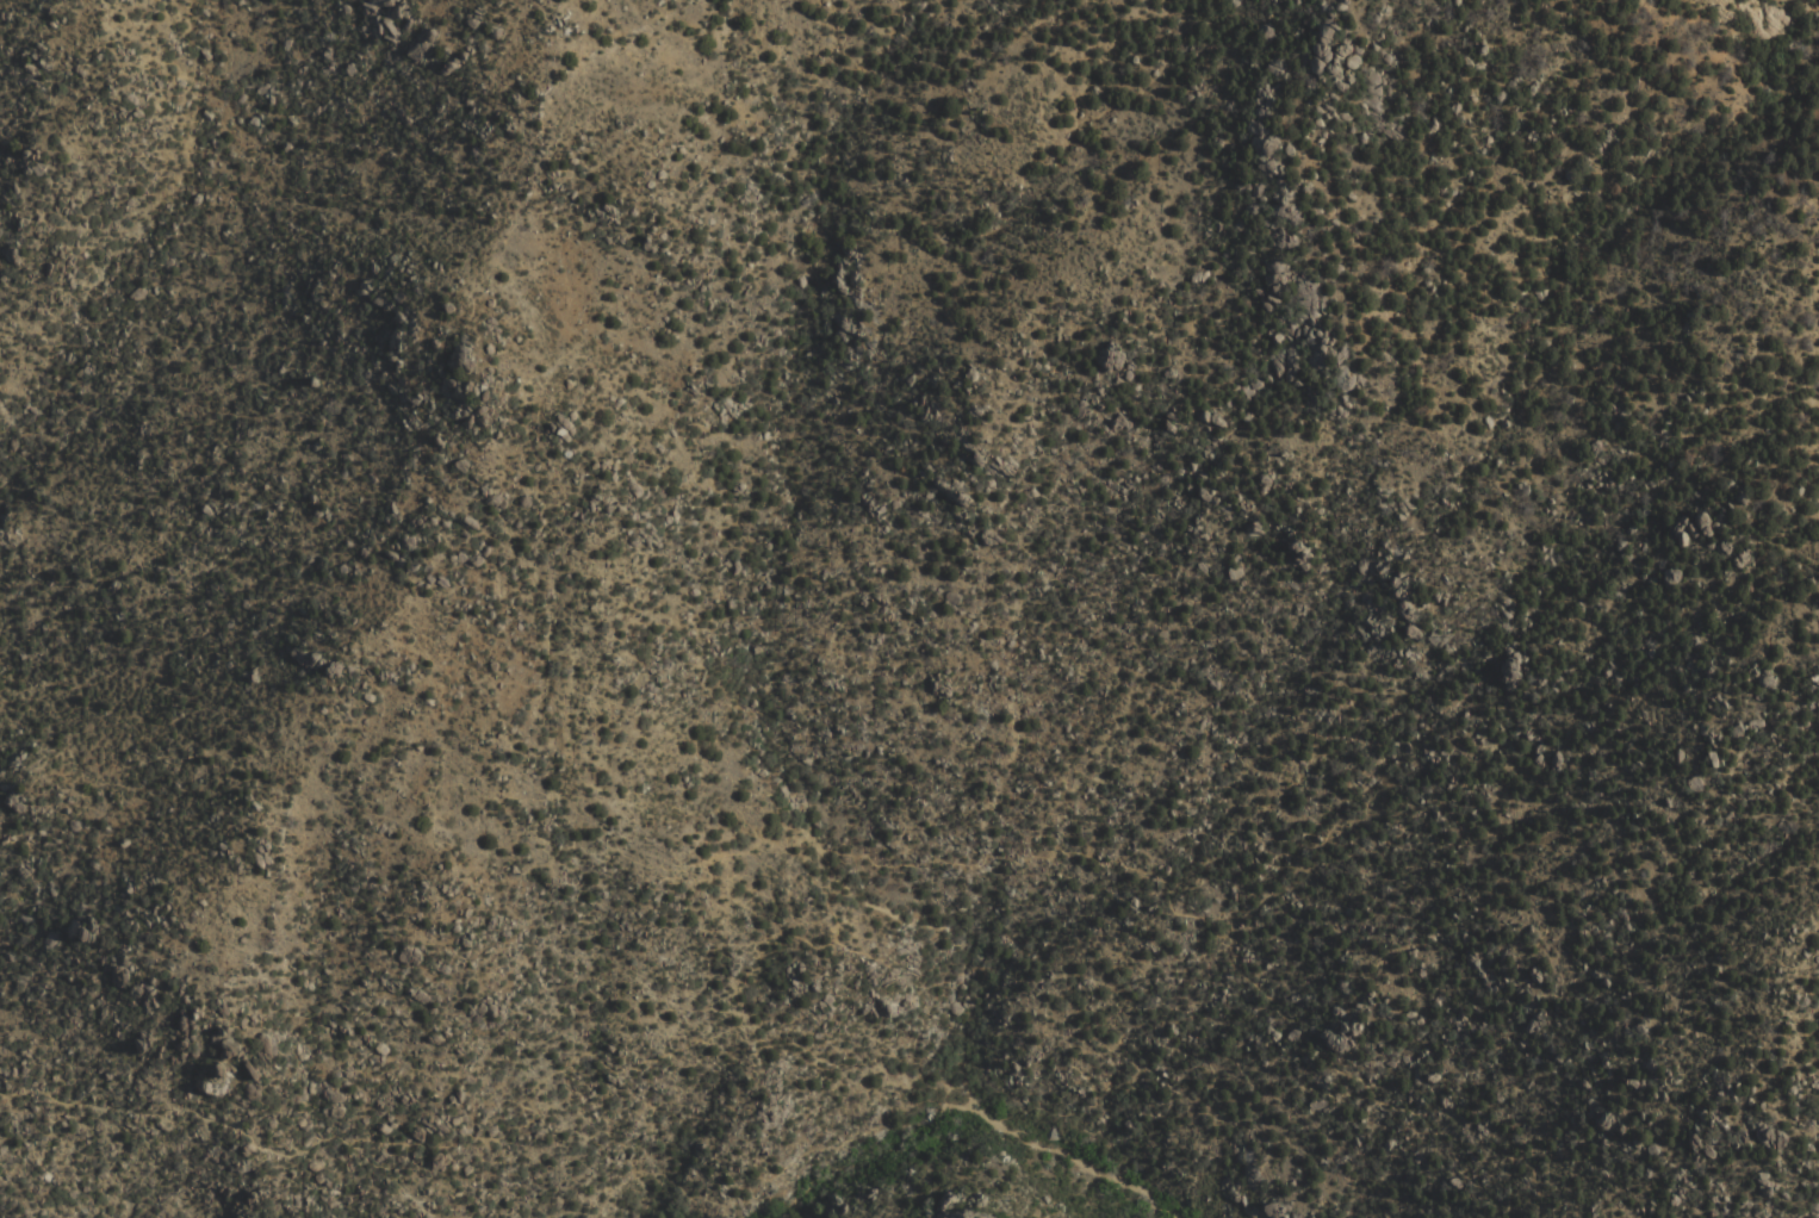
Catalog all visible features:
road: (800, 933)
road: (1042, 1106)
road: (1521, 1133)
road: (1086, 1168)
road: (383, 1173)
road: (590, 1216)
road: (1814, 1216)

